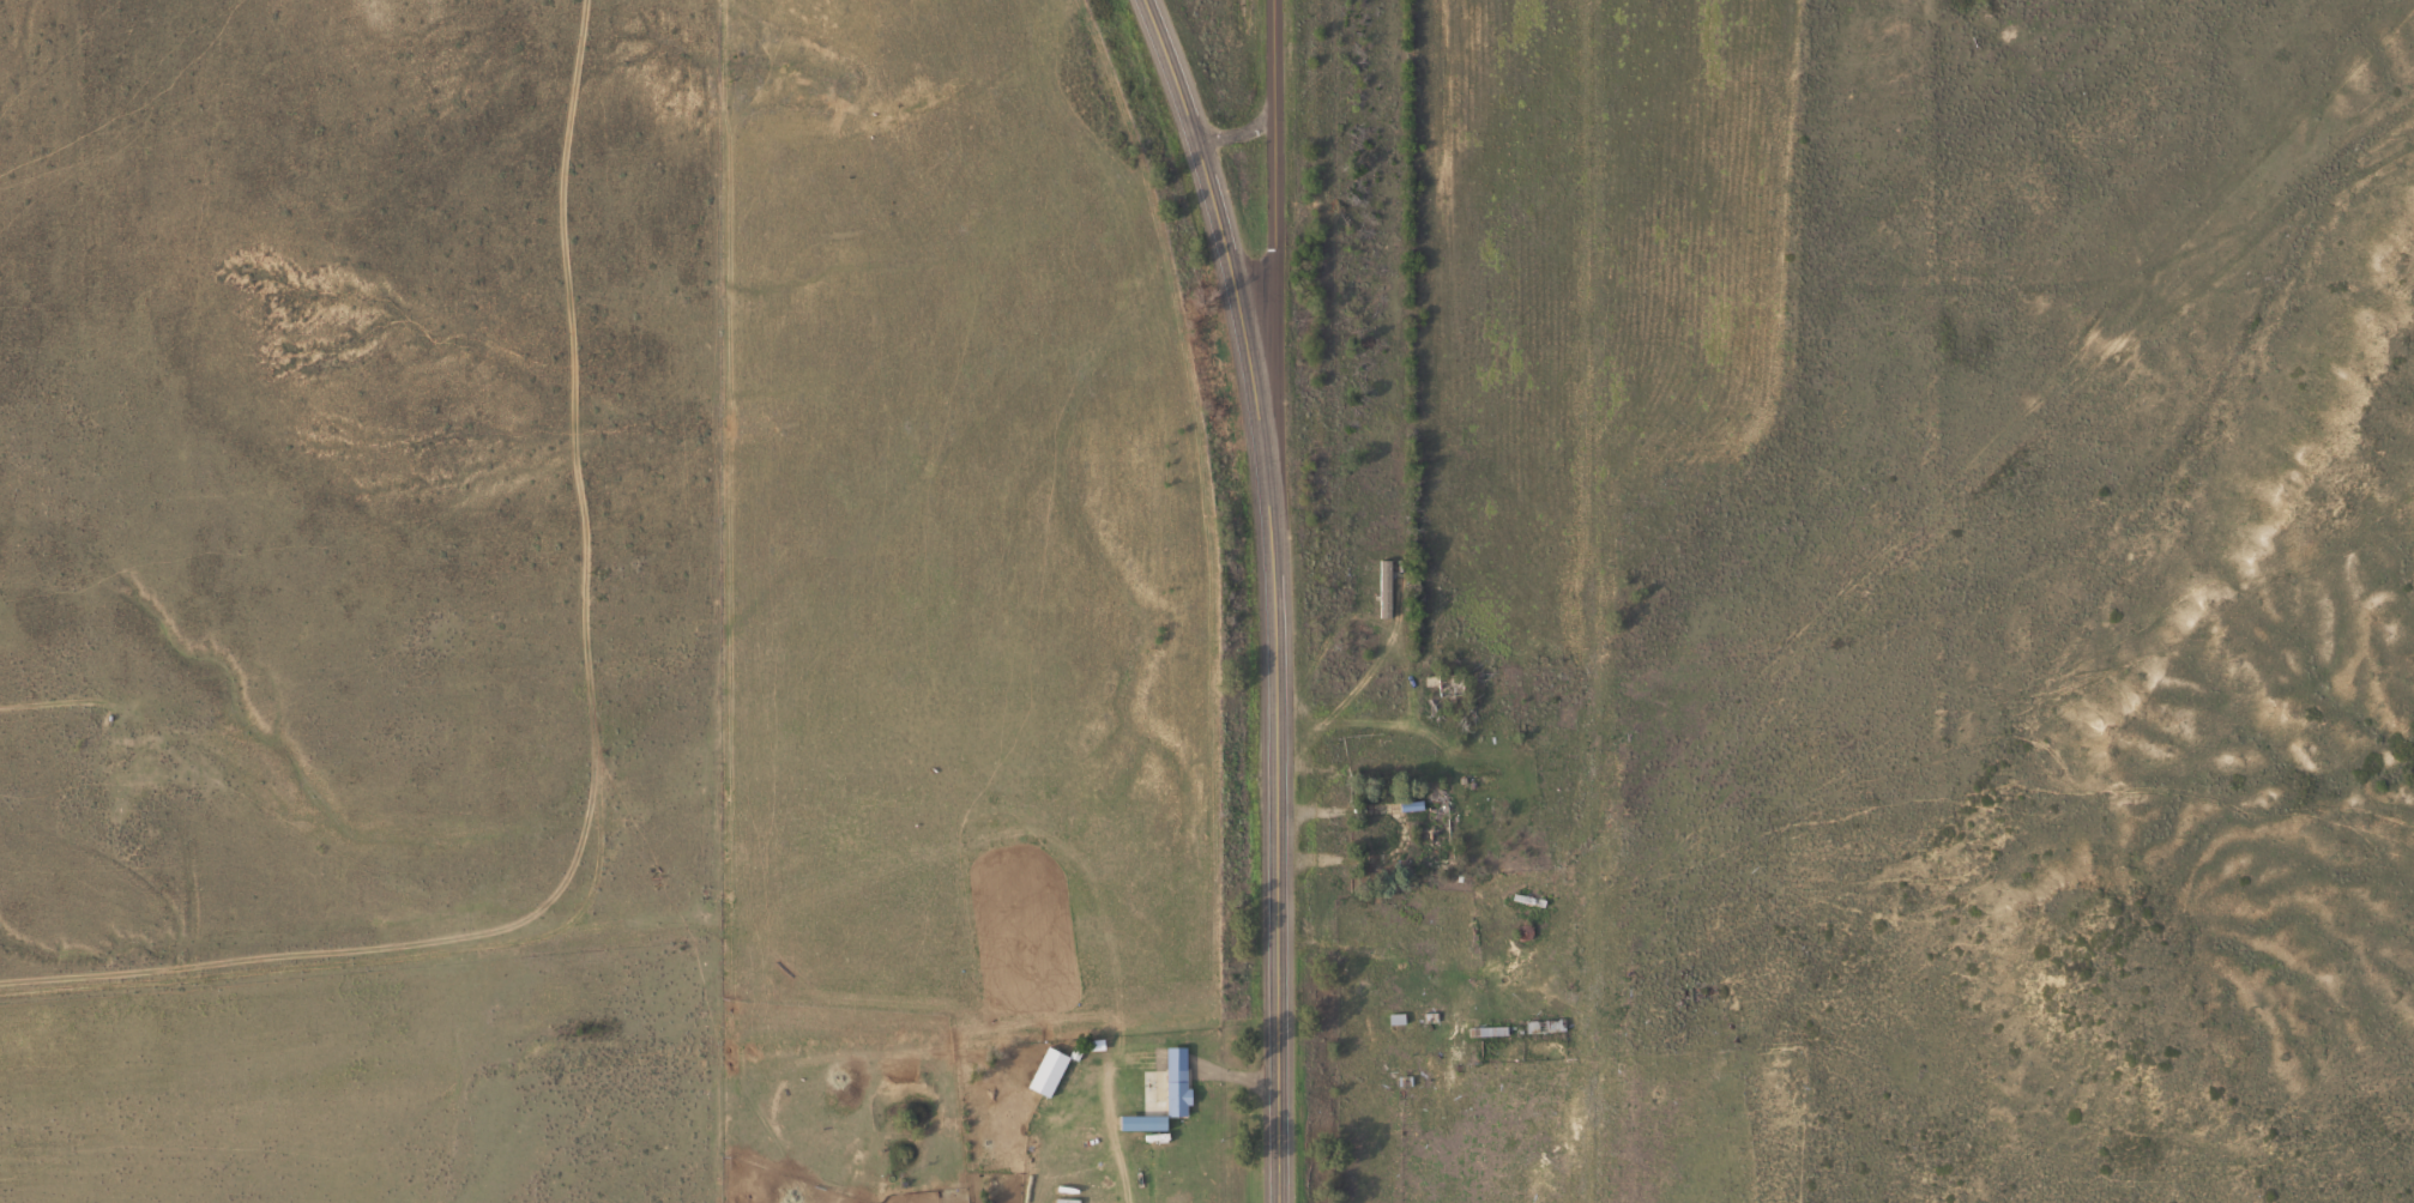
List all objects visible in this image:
road: (1241, 133)
road: (1279, 321)
building: (1392, 588)
road: (1279, 592)
building: (1537, 899)
building: (1553, 1024)
building: (1187, 1089)
road: (339, 1177)

